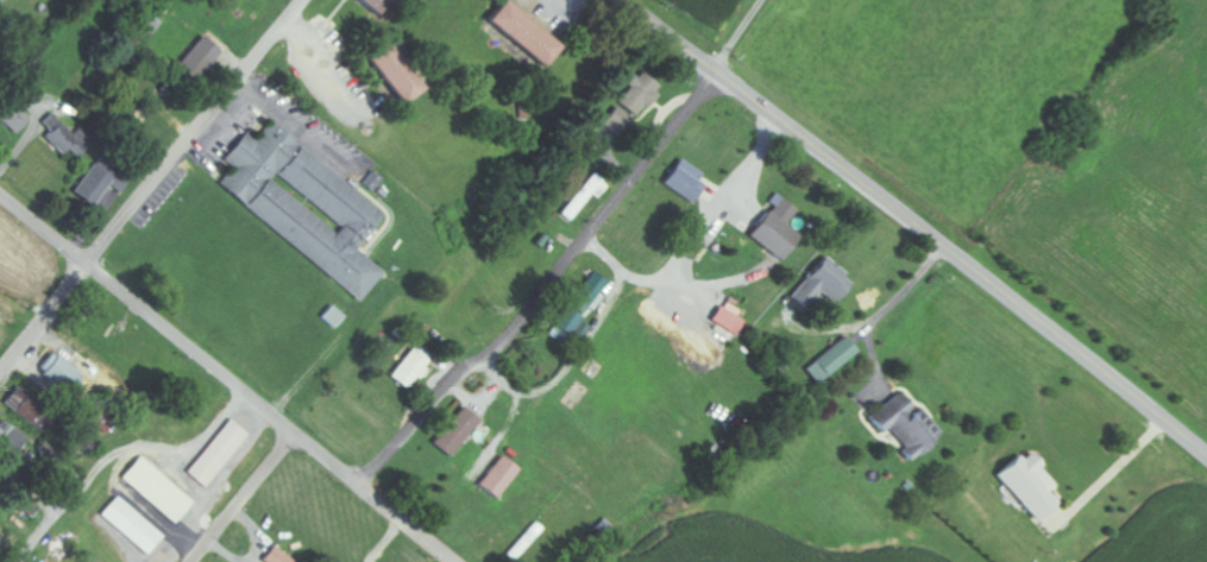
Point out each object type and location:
building: (372, 5)
building: (524, 33)
road: (672, 38)
road: (744, 38)
building: (203, 55)
building: (391, 72)
building: (636, 94)
building: (14, 115)
building: (617, 121)
building: (69, 137)
building: (683, 179)
road: (152, 182)
building: (93, 187)
building: (584, 196)
building: (303, 206)
building: (775, 228)
road: (964, 264)
building: (821, 284)
road: (546, 288)
building: (578, 305)
building: (332, 316)
road: (205, 359)
building: (829, 360)
building: (409, 370)
building: (59, 372)
building: (21, 406)
building: (904, 427)
building: (454, 431)
building: (10, 440)
building: (218, 452)
building: (496, 478)
building: (1029, 485)
building: (156, 488)
road: (243, 498)
building: (131, 524)
road: (430, 545)
building: (278, 556)

